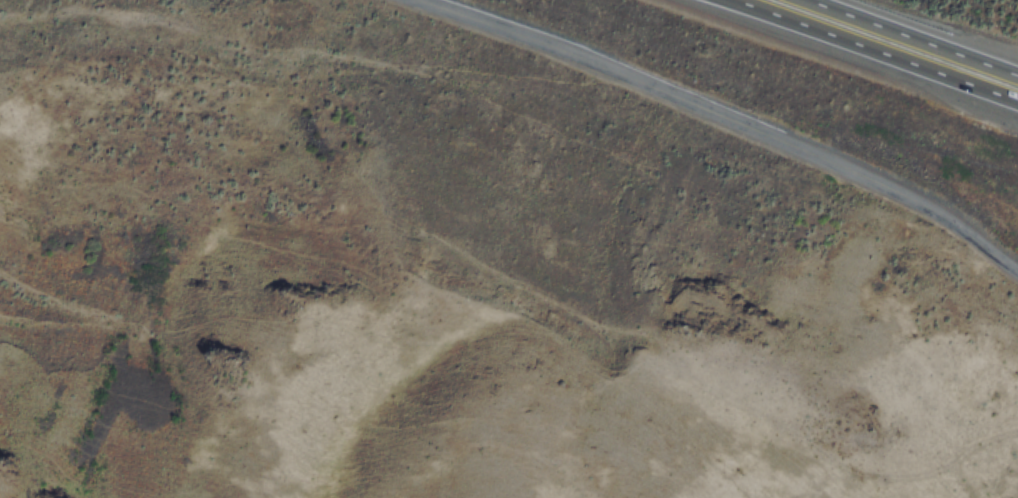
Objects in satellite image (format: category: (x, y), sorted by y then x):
road: (919, 33)
road: (875, 48)
road: (718, 118)

